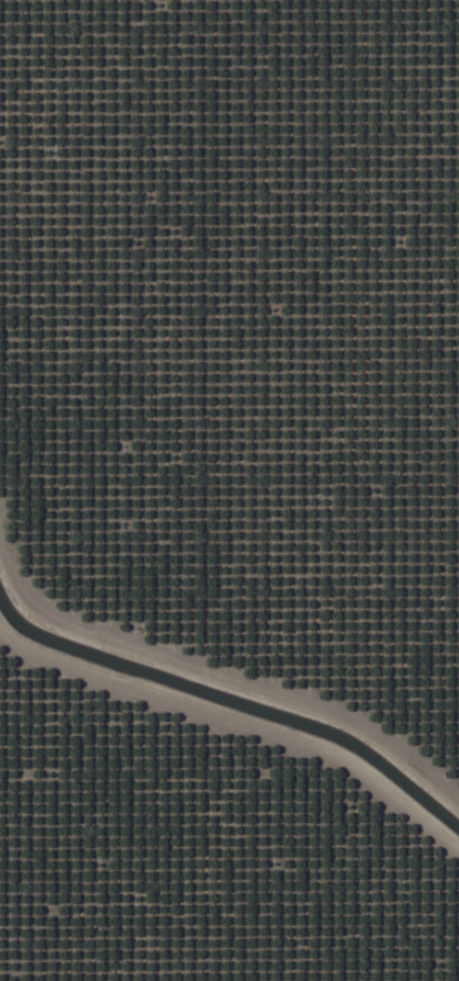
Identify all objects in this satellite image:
crop: (229, 490)

